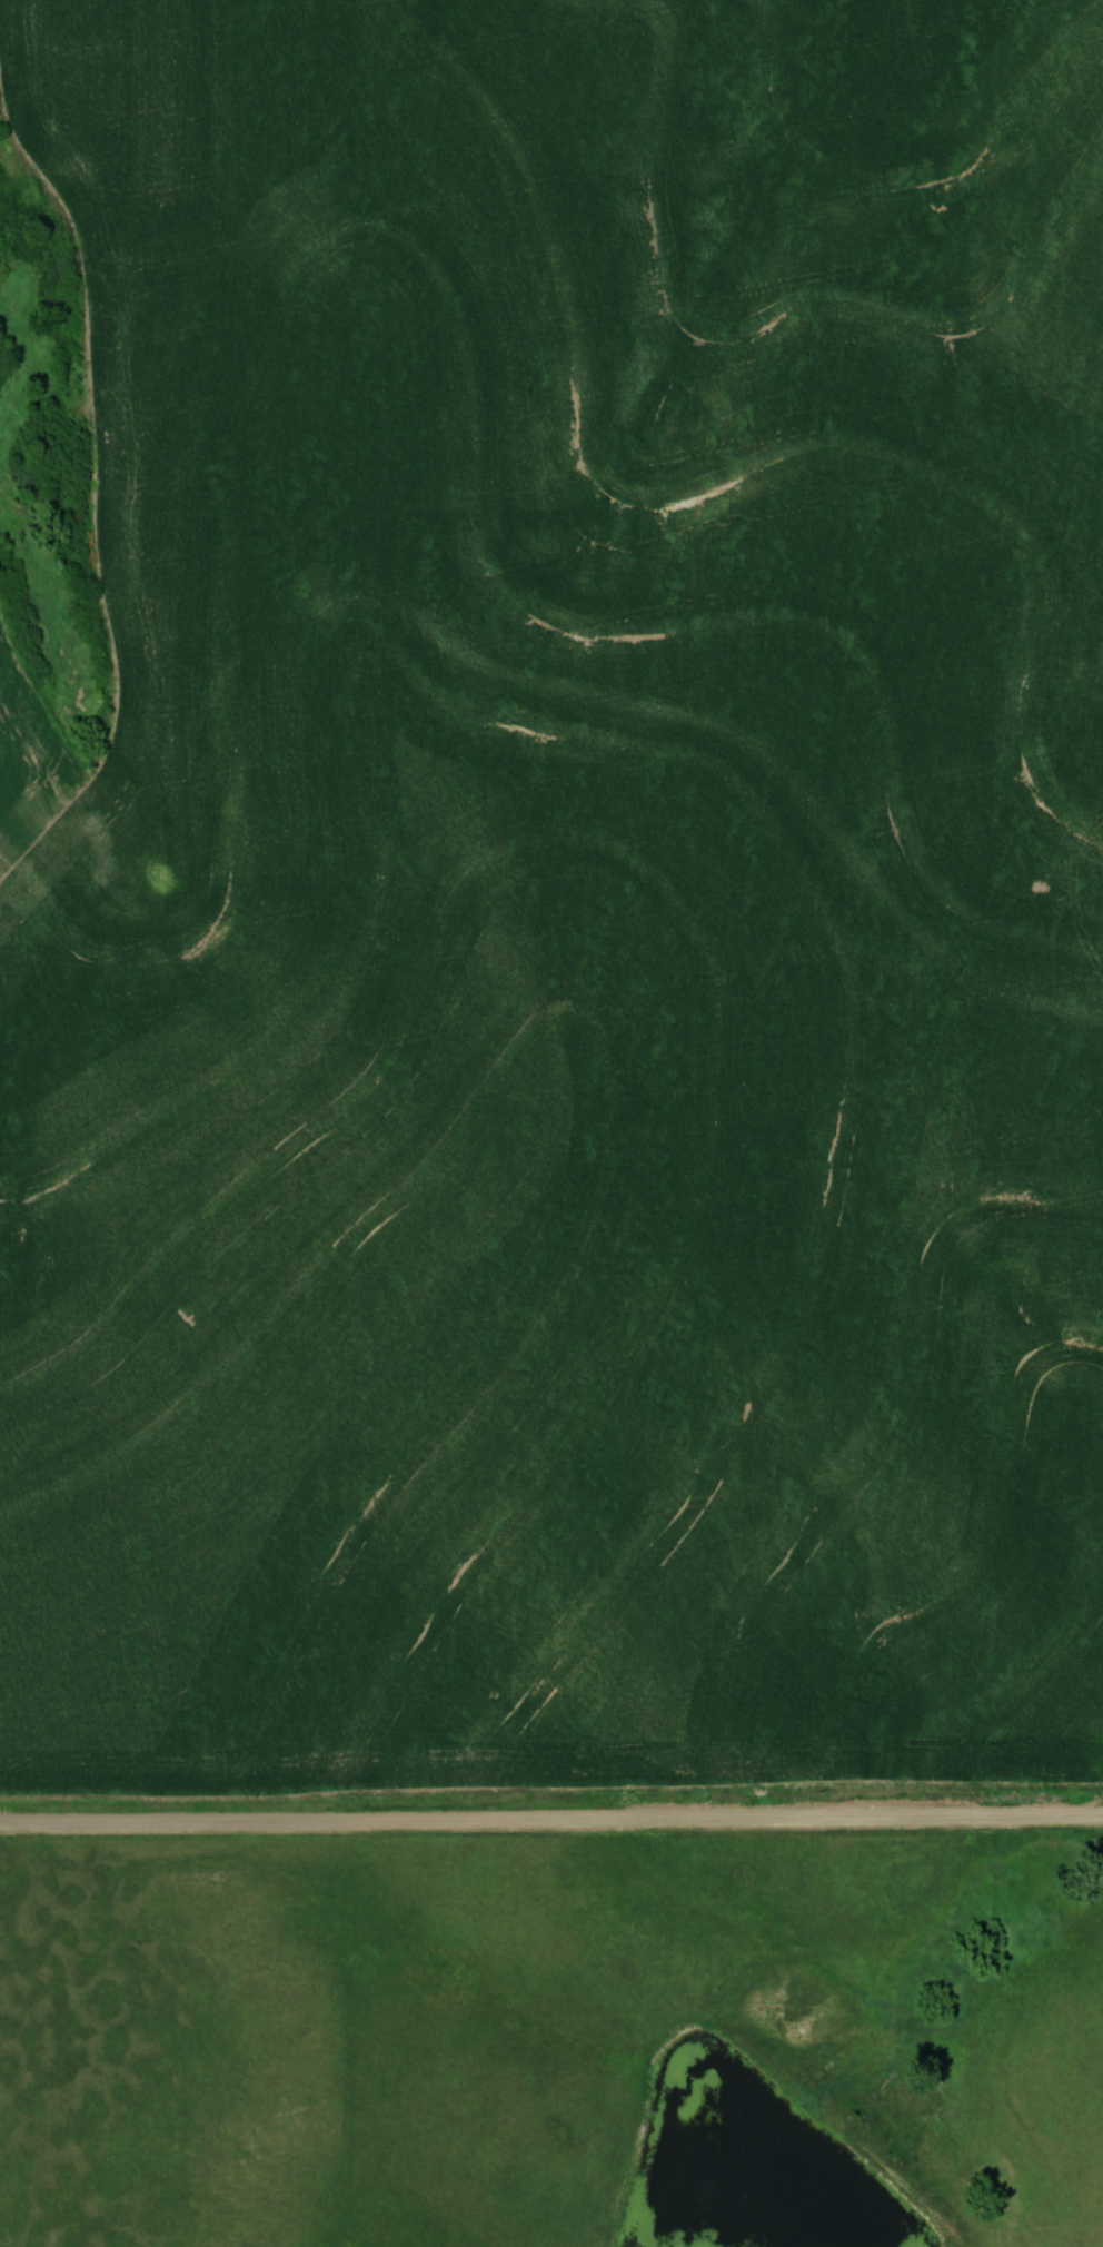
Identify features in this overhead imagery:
road: (551, 1817)

